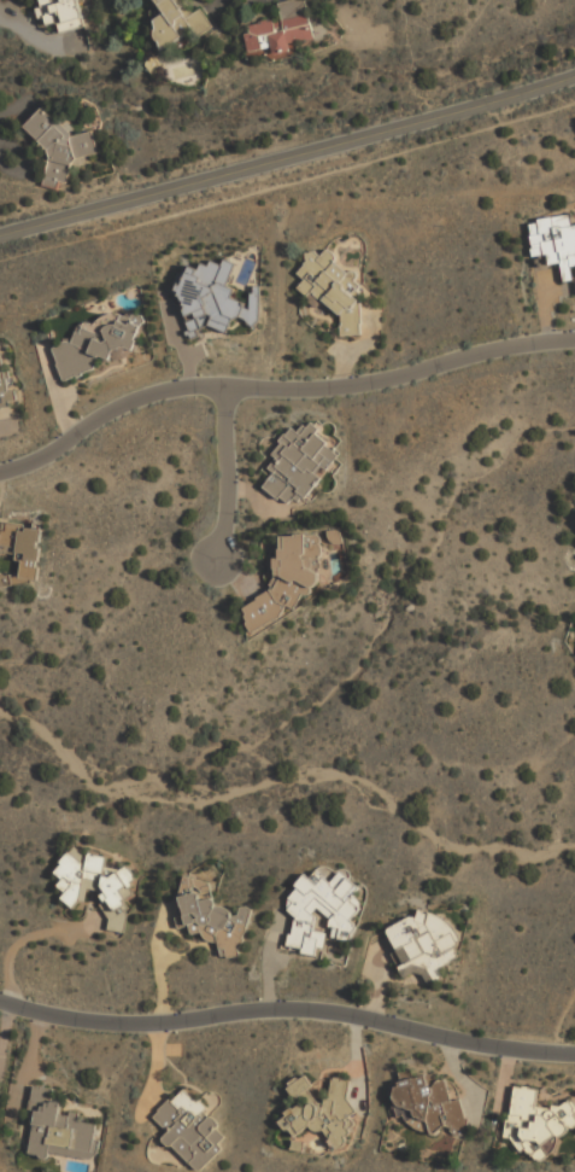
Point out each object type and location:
building: (63, 14)
building: (177, 22)
building: (280, 30)
building: (61, 146)
road: (288, 156)
road: (288, 183)
building: (556, 244)
building: (331, 287)
building: (212, 298)
building: (98, 344)
building: (6, 386)
road: (278, 387)
building: (300, 463)
road: (227, 477)
building: (22, 549)
building: (288, 579)
building: (94, 880)
building: (322, 910)
building: (213, 916)
road: (29, 935)
building: (423, 944)
road: (158, 962)
road: (287, 1008)
road: (5, 1027)
building: (300, 1085)
building: (427, 1102)
building: (324, 1114)
building: (536, 1123)
building: (60, 1129)
building: (192, 1130)

